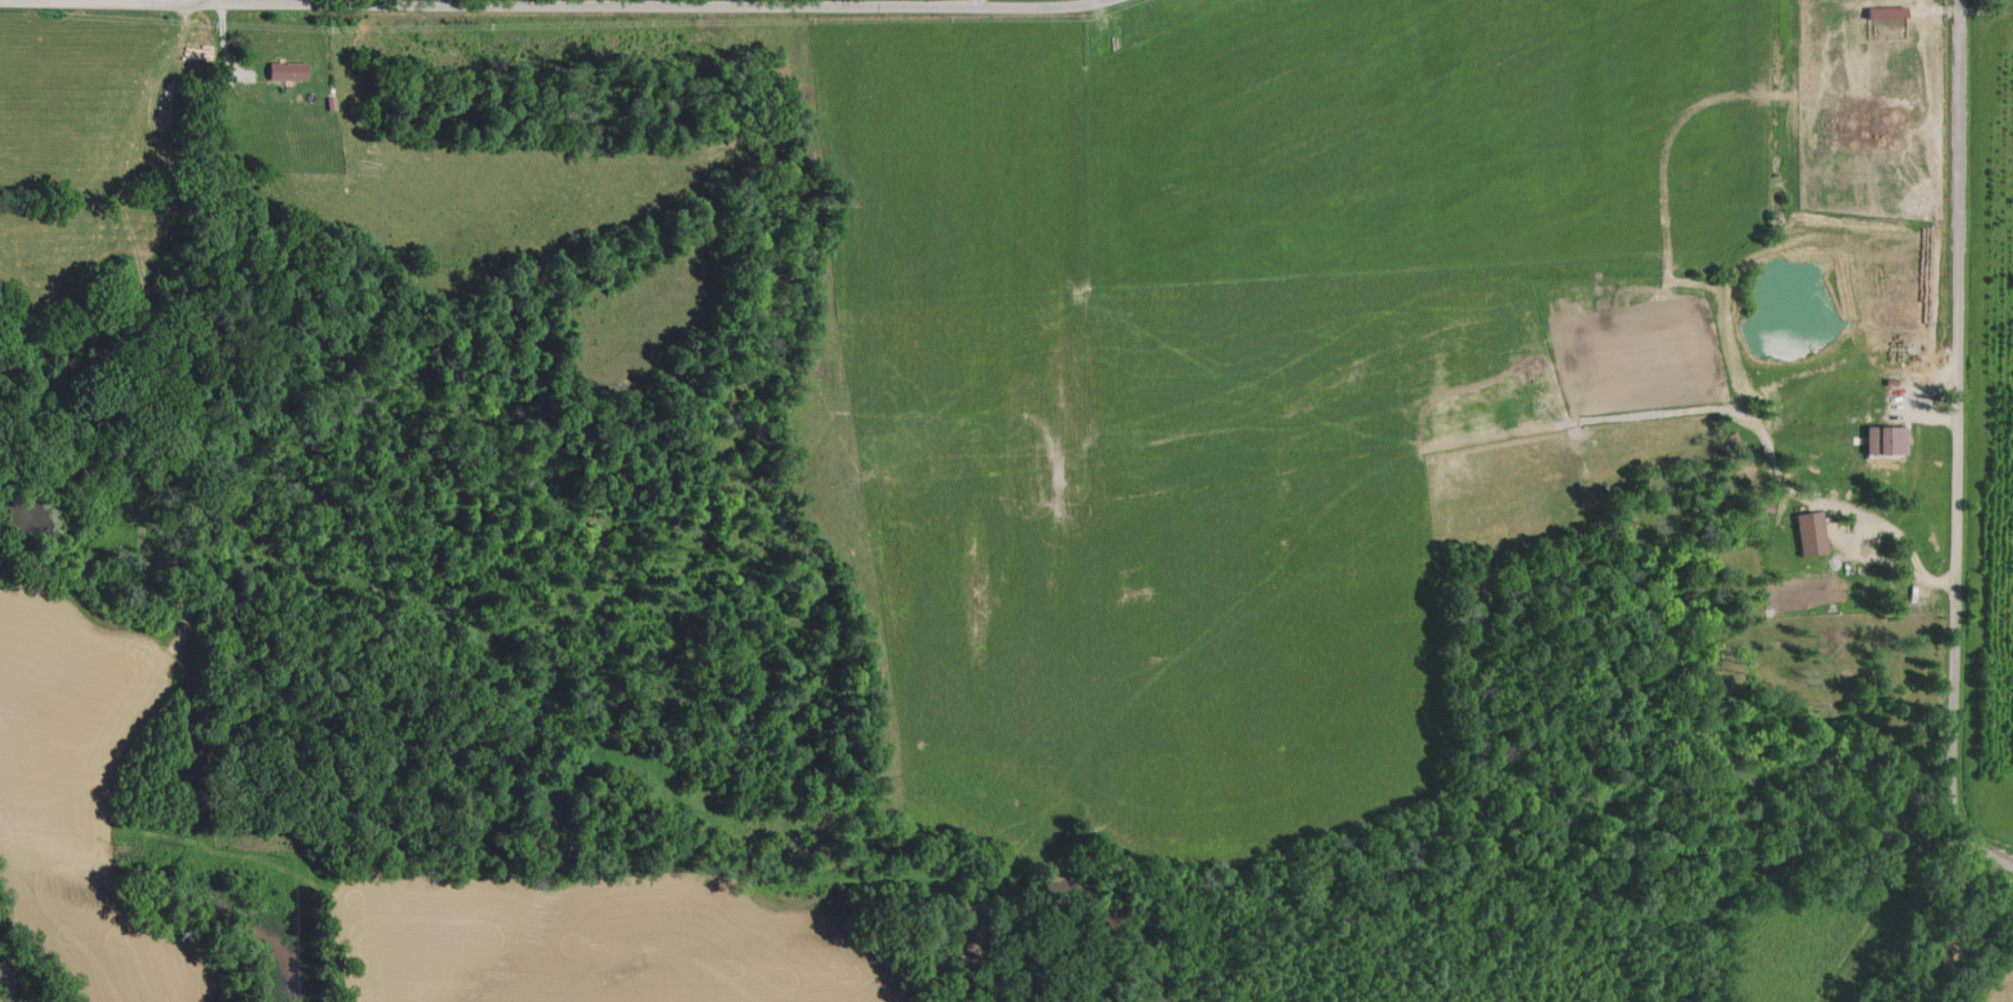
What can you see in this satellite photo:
road: (830, 2)
building: (284, 70)
building: (1883, 440)
road: (1956, 442)
building: (1809, 533)
river: (1057, 891)
river: (1948, 940)
river: (2, 995)

